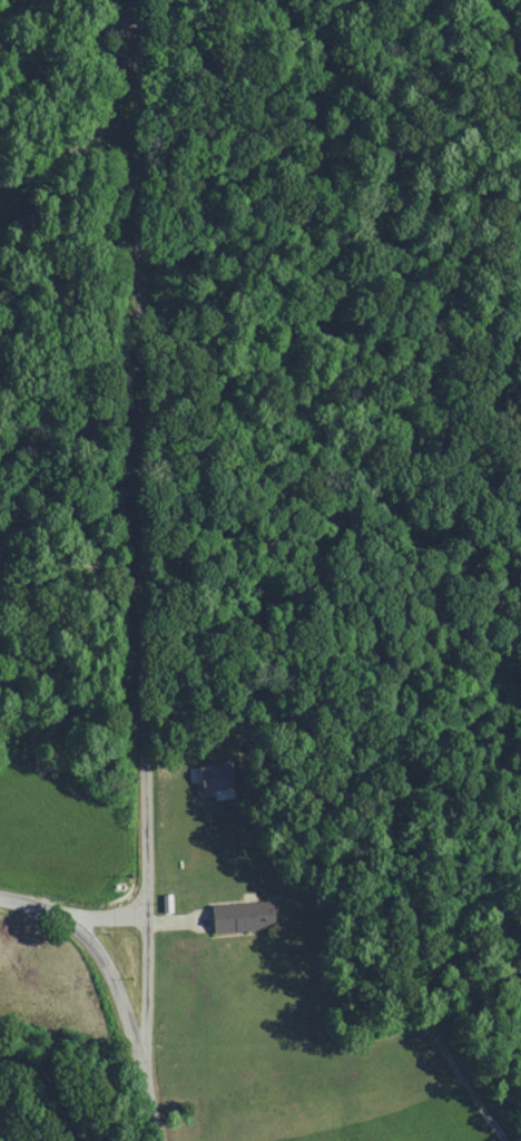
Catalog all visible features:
road: (101, 123)
road: (142, 457)
road: (71, 562)
building: (210, 780)
building: (238, 916)
road: (73, 917)
road: (112, 984)
road: (145, 1027)

